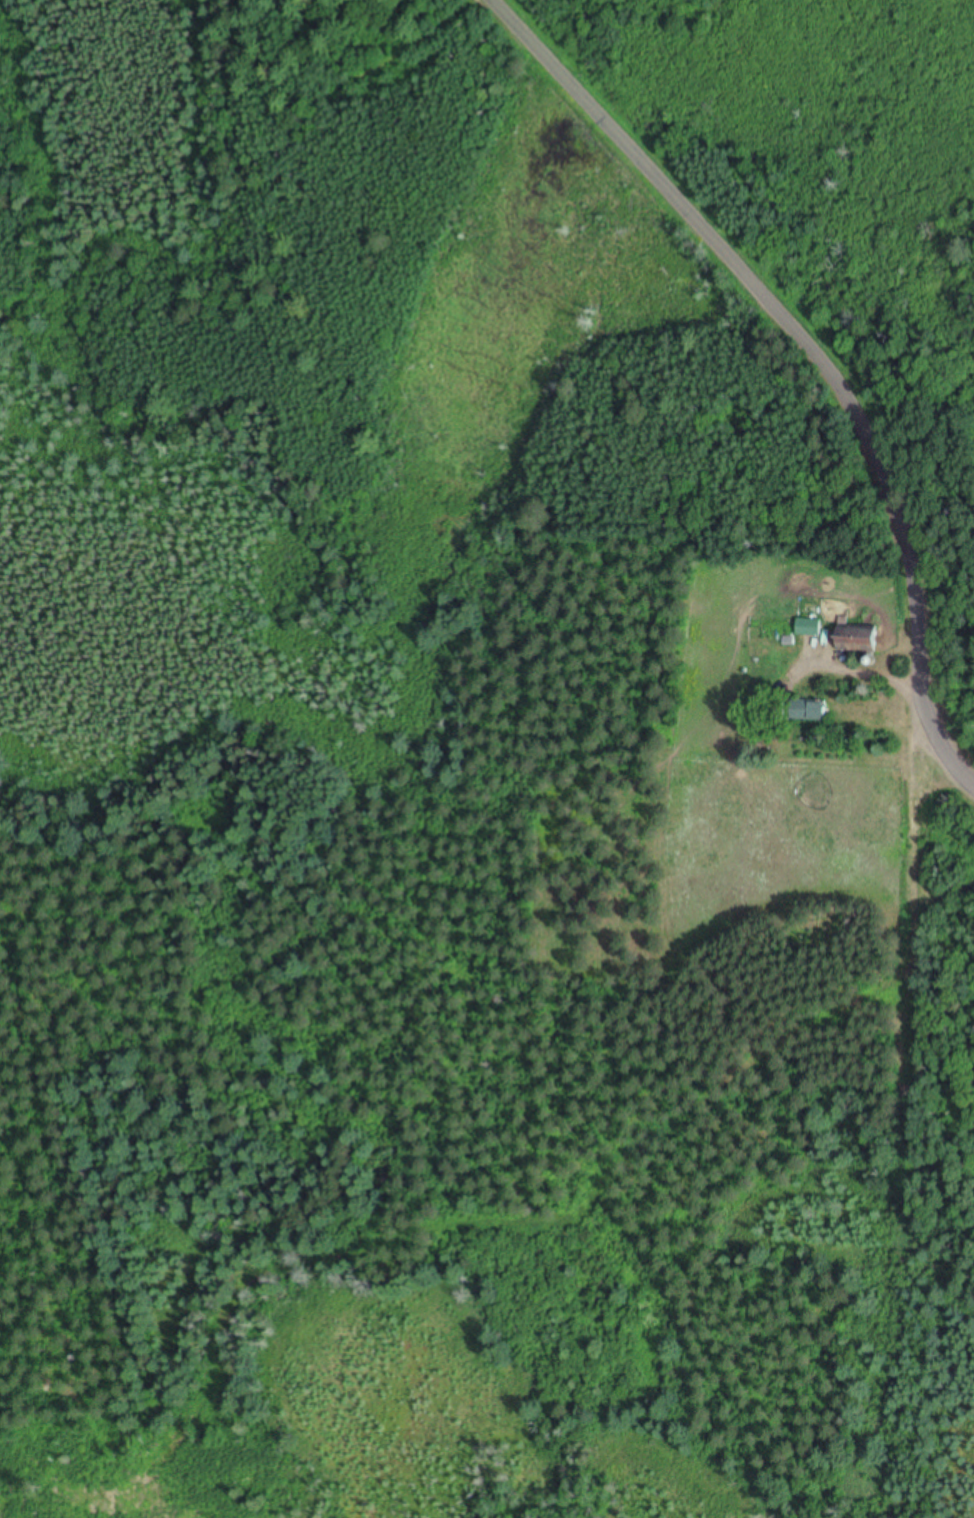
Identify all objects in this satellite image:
road: (806, 348)
building: (808, 628)
building: (857, 638)
building: (809, 711)

